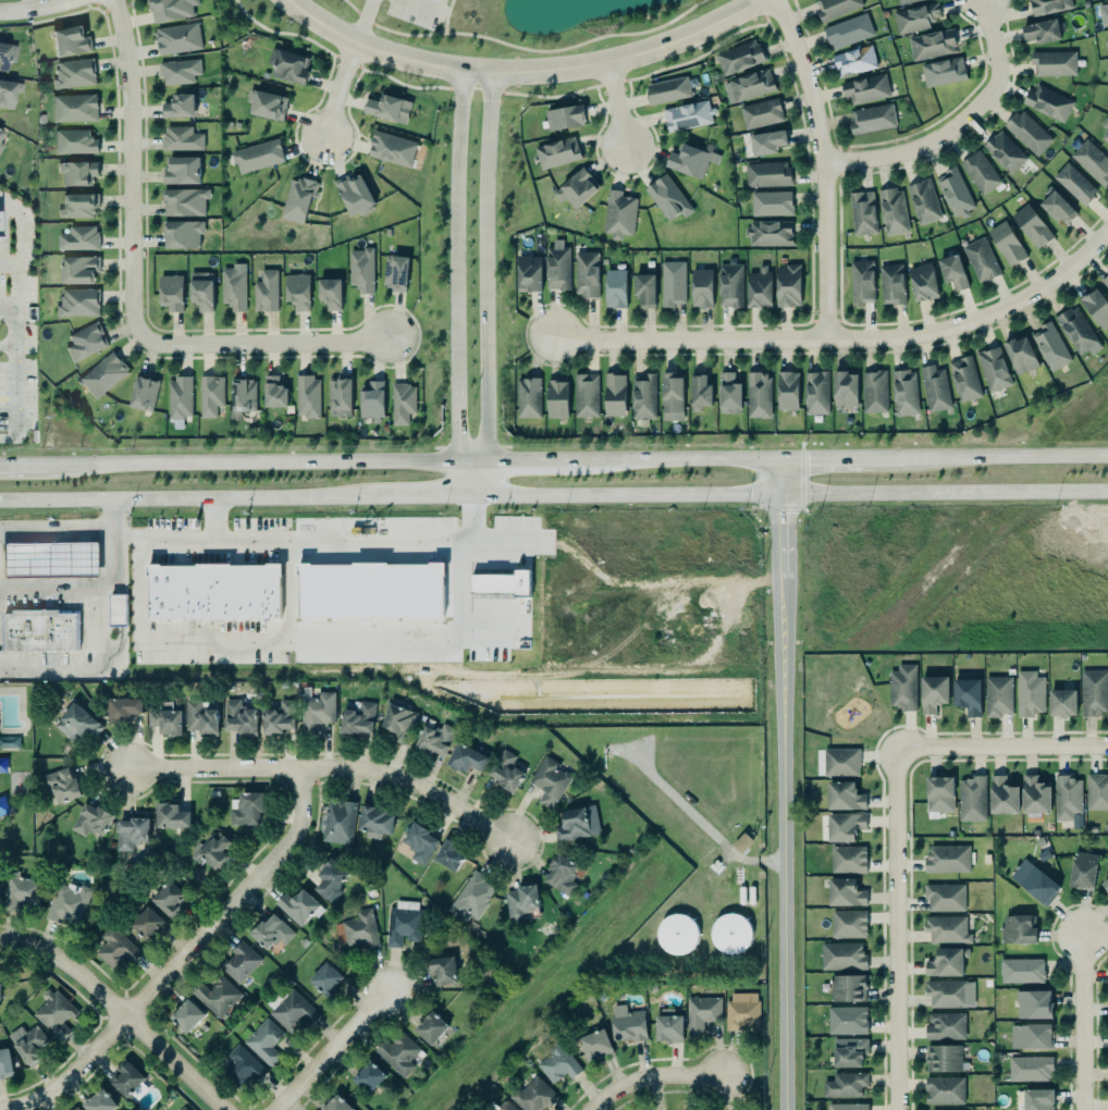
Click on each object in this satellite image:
building: (903, 1)
road: (122, 5)
building: (1048, 7)
road: (420, 8)
building: (834, 8)
road: (36, 9)
building: (163, 11)
building: (1106, 11)
road: (758, 12)
parking lot: (413, 13)
road: (442, 15)
road: (443, 17)
building: (914, 18)
road: (360, 22)
building: (847, 30)
building: (1042, 32)
building: (1107, 33)
building: (171, 40)
building: (1107, 41)
building: (62, 42)
building: (930, 44)
road: (521, 49)
building: (738, 58)
building: (3, 59)
building: (854, 61)
building: (1052, 62)
building: (283, 67)
building: (940, 72)
building: (172, 73)
road: (517, 74)
building: (70, 77)
building: (748, 86)
building: (864, 88)
road: (336, 90)
building: (667, 90)
road: (491, 92)
building: (7, 97)
building: (1046, 102)
road: (610, 104)
building: (1107, 107)
building: (259, 108)
building: (383, 108)
building: (172, 109)
building: (67, 111)
building: (761, 114)
building: (687, 115)
building: (564, 118)
road: (952, 118)
building: (872, 119)
building: (1105, 128)
building: (1026, 132)
building: (1, 137)
building: (177, 140)
building: (767, 140)
building: (0, 145)
building: (70, 145)
building: (390, 148)
building: (1005, 152)
building: (557, 153)
building: (250, 159)
building: (687, 161)
building: (1091, 161)
road: (823, 164)
road: (127, 168)
building: (175, 172)
building: (978, 172)
building: (765, 174)
building: (70, 177)
building: (1073, 184)
building: (576, 189)
building: (952, 192)
building: (353, 195)
building: (666, 197)
building: (922, 201)
building: (295, 202)
building: (771, 203)
building: (180, 206)
building: (1055, 206)
building: (73, 209)
building: (891, 211)
building: (617, 213)
building: (862, 213)
building: (0, 226)
building: (1032, 226)
road: (14, 230)
building: (767, 232)
building: (177, 237)
building: (72, 240)
building: (1006, 244)
building: (978, 259)
road: (9, 262)
building: (556, 264)
building: (360, 270)
building: (952, 272)
building: (73, 273)
building: (395, 273)
building: (528, 274)
building: (586, 274)
building: (1105, 281)
building: (859, 282)
building: (922, 282)
building: (672, 284)
building: (729, 284)
building: (786, 284)
building: (890, 284)
road: (14, 285)
road: (456, 285)
road: (487, 286)
building: (615, 288)
building: (701, 288)
building: (759, 288)
building: (642, 291)
building: (229, 293)
building: (260, 294)
building: (165, 296)
building: (294, 296)
building: (199, 299)
building: (328, 299)
building: (72, 305)
building: (1094, 307)
road: (5, 308)
building: (1078, 332)
road: (841, 338)
parking lot: (13, 342)
road: (259, 343)
building: (78, 344)
road: (4, 347)
building: (1050, 347)
building: (1018, 356)
building: (993, 369)
road: (9, 373)
building: (97, 377)
building: (964, 379)
building: (933, 388)
building: (842, 390)
building: (698, 391)
building: (786, 391)
building: (337, 392)
building: (874, 392)
building: (903, 392)
building: (727, 393)
building: (814, 393)
building: (140, 394)
building: (613, 394)
building: (584, 395)
building: (642, 395)
building: (759, 395)
building: (672, 396)
building: (272, 397)
building: (303, 398)
building: (527, 398)
building: (555, 398)
building: (204, 399)
building: (370, 399)
building: (174, 402)
building: (236, 403)
building: (399, 403)
road: (4, 440)
road: (1005, 456)
road: (841, 457)
road: (396, 461)
road: (5, 465)
road: (945, 492)
road: (430, 495)
road: (627, 495)
road: (195, 498)
road: (204, 520)
road: (235, 543)
road: (485, 543)
parking lot: (205, 544)
gas station: (48, 564)
building: (502, 583)
road: (96, 593)
building: (210, 595)
building: (331, 602)
building: (114, 614)
road: (492, 622)
parking lot: (90, 624)
building: (37, 634)
parking lot: (201, 644)
road: (297, 644)
road: (82, 668)
building: (902, 688)
building: (1087, 692)
building: (933, 693)
building: (1029, 694)
building: (997, 695)
building: (967, 696)
building: (1062, 703)
building: (122, 707)
building: (316, 711)
building: (164, 717)
building: (199, 717)
building: (239, 717)
building: (278, 717)
building: (358, 719)
building: (76, 723)
building: (398, 724)
building: (435, 740)
building: (9, 742)
road: (998, 750)
building: (467, 760)
building: (840, 761)
road: (322, 768)
park: (12, 769)
building: (506, 770)
building: (549, 780)
building: (62, 785)
road: (791, 785)
building: (1096, 792)
building: (937, 793)
building: (1034, 793)
building: (844, 794)
building: (1002, 797)
building: (1066, 797)
building: (971, 798)
building: (247, 807)
building: (171, 816)
building: (91, 821)
building: (338, 821)
building: (376, 821)
building: (577, 824)
road: (702, 825)
building: (844, 825)
building: (132, 832)
building: (419, 843)
building: (739, 846)
building: (213, 850)
building: (450, 855)
building: (847, 858)
building: (941, 861)
building: (1079, 869)
building: (556, 874)
building: (330, 876)
building: (1033, 881)
building: (1104, 883)
building: (844, 890)
building: (21, 892)
building: (944, 896)
building: (169, 898)
building: (471, 898)
building: (516, 902)
building: (67, 904)
building: (297, 904)
building: (145, 923)
building: (848, 924)
building: (403, 926)
building: (359, 928)
building: (946, 928)
building: (1018, 929)
road: (887, 930)
building: (271, 932)
building: (729, 934)
building: (676, 935)
building: (115, 949)
building: (841, 955)
road: (178, 961)
building: (238, 961)
building: (946, 962)
building: (441, 971)
building: (1021, 971)
building: (325, 979)
building: (847, 987)
building: (0, 992)
building: (947, 994)
building: (217, 995)
building: (1033, 1004)
road: (123, 1010)
building: (292, 1011)
building: (741, 1011)
building: (54, 1012)
building: (701, 1013)
building: (186, 1014)
road: (1075, 1015)
building: (846, 1019)
building: (628, 1025)
building: (945, 1025)
building: (431, 1027)
building: (668, 1027)
building: (1029, 1035)
building: (263, 1043)
building: (29, 1045)
building: (595, 1045)
road: (328, 1050)
building: (848, 1050)
building: (398, 1054)
building: (944, 1059)
building: (4, 1061)
building: (557, 1063)
building: (241, 1065)
building: (1029, 1068)
building: (368, 1075)
road: (651, 1076)
building: (126, 1077)
building: (845, 1085)
building: (944, 1090)
building: (533, 1095)
building: (1037, 1099)
building: (99, 1100)
building: (336, 1103)
building: (500, 1106)
building: (848, 1107)
building: (183, 1108)
building: (74, 1109)
building: (77, 1109)

